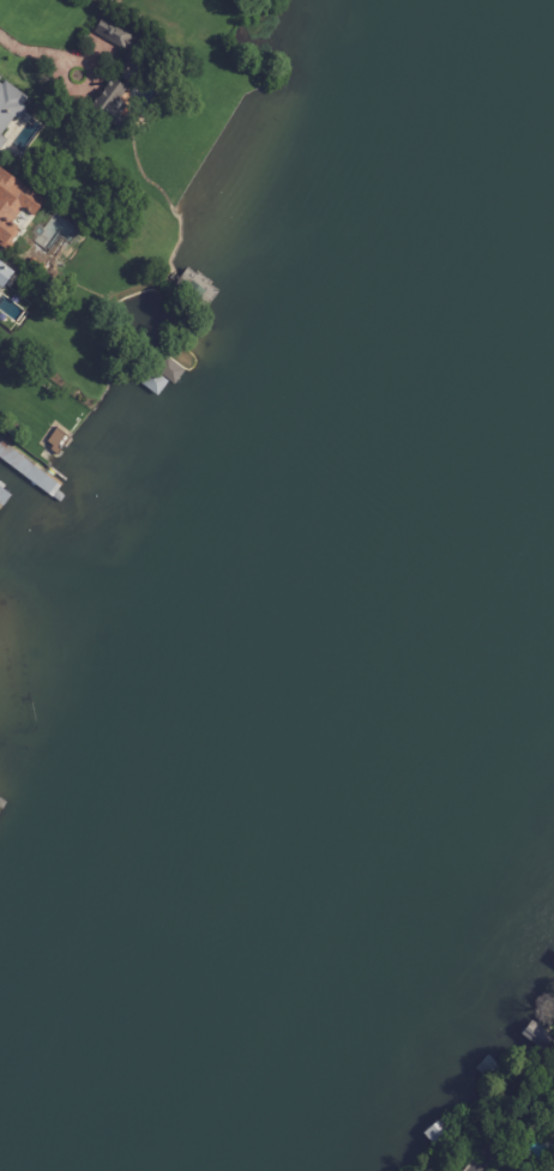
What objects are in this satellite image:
building: (114, 32)
road: (35, 50)
building: (0, 77)
building: (1, 89)
building: (119, 95)
building: (55, 198)
building: (16, 210)
building: (36, 267)
building: (5, 274)
building: (2, 448)
river: (320, 610)
road: (512, 1123)

